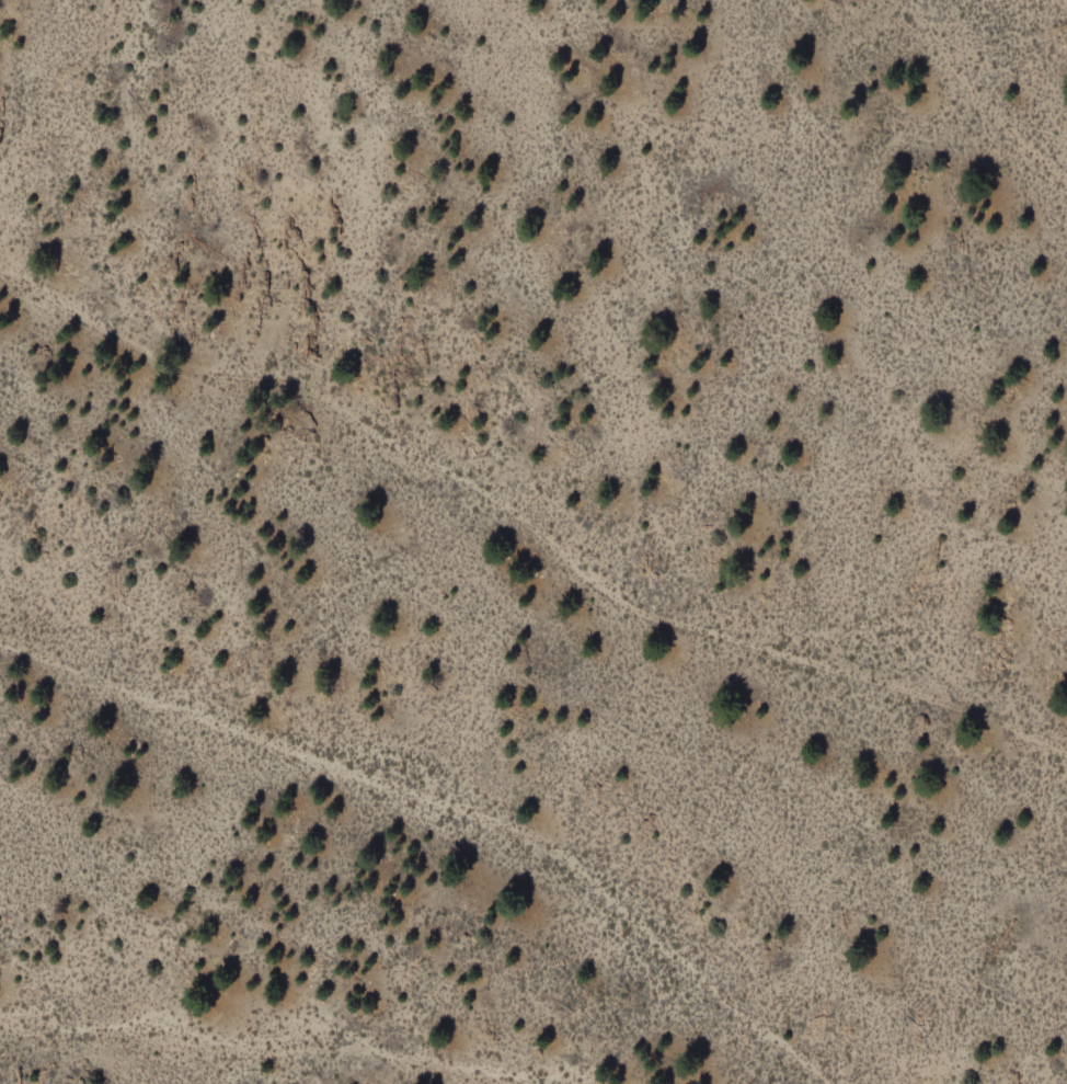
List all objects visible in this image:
road: (976, 100)

